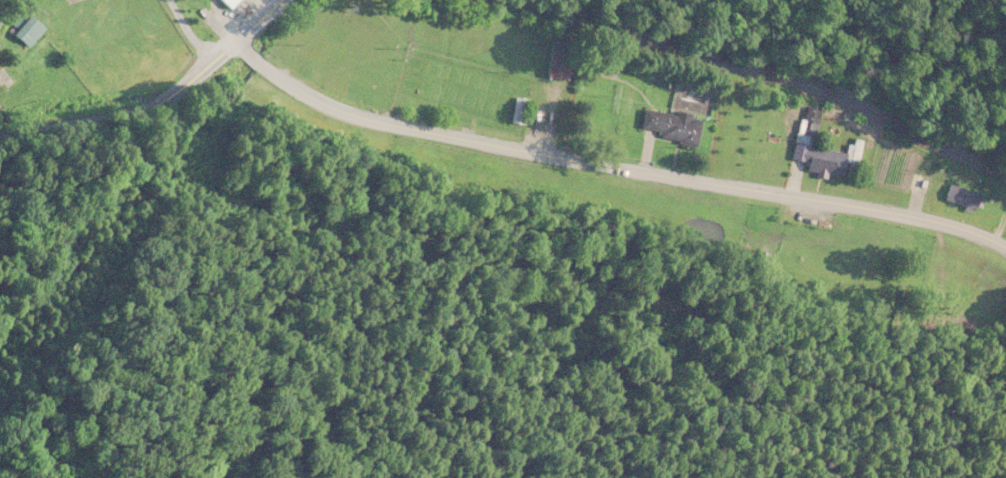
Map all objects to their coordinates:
building: (234, 3)
building: (97, 21)
building: (29, 28)
road: (189, 31)
building: (563, 58)
road: (151, 98)
building: (522, 110)
building: (676, 125)
building: (747, 148)
building: (827, 153)
road: (610, 165)
building: (959, 197)

